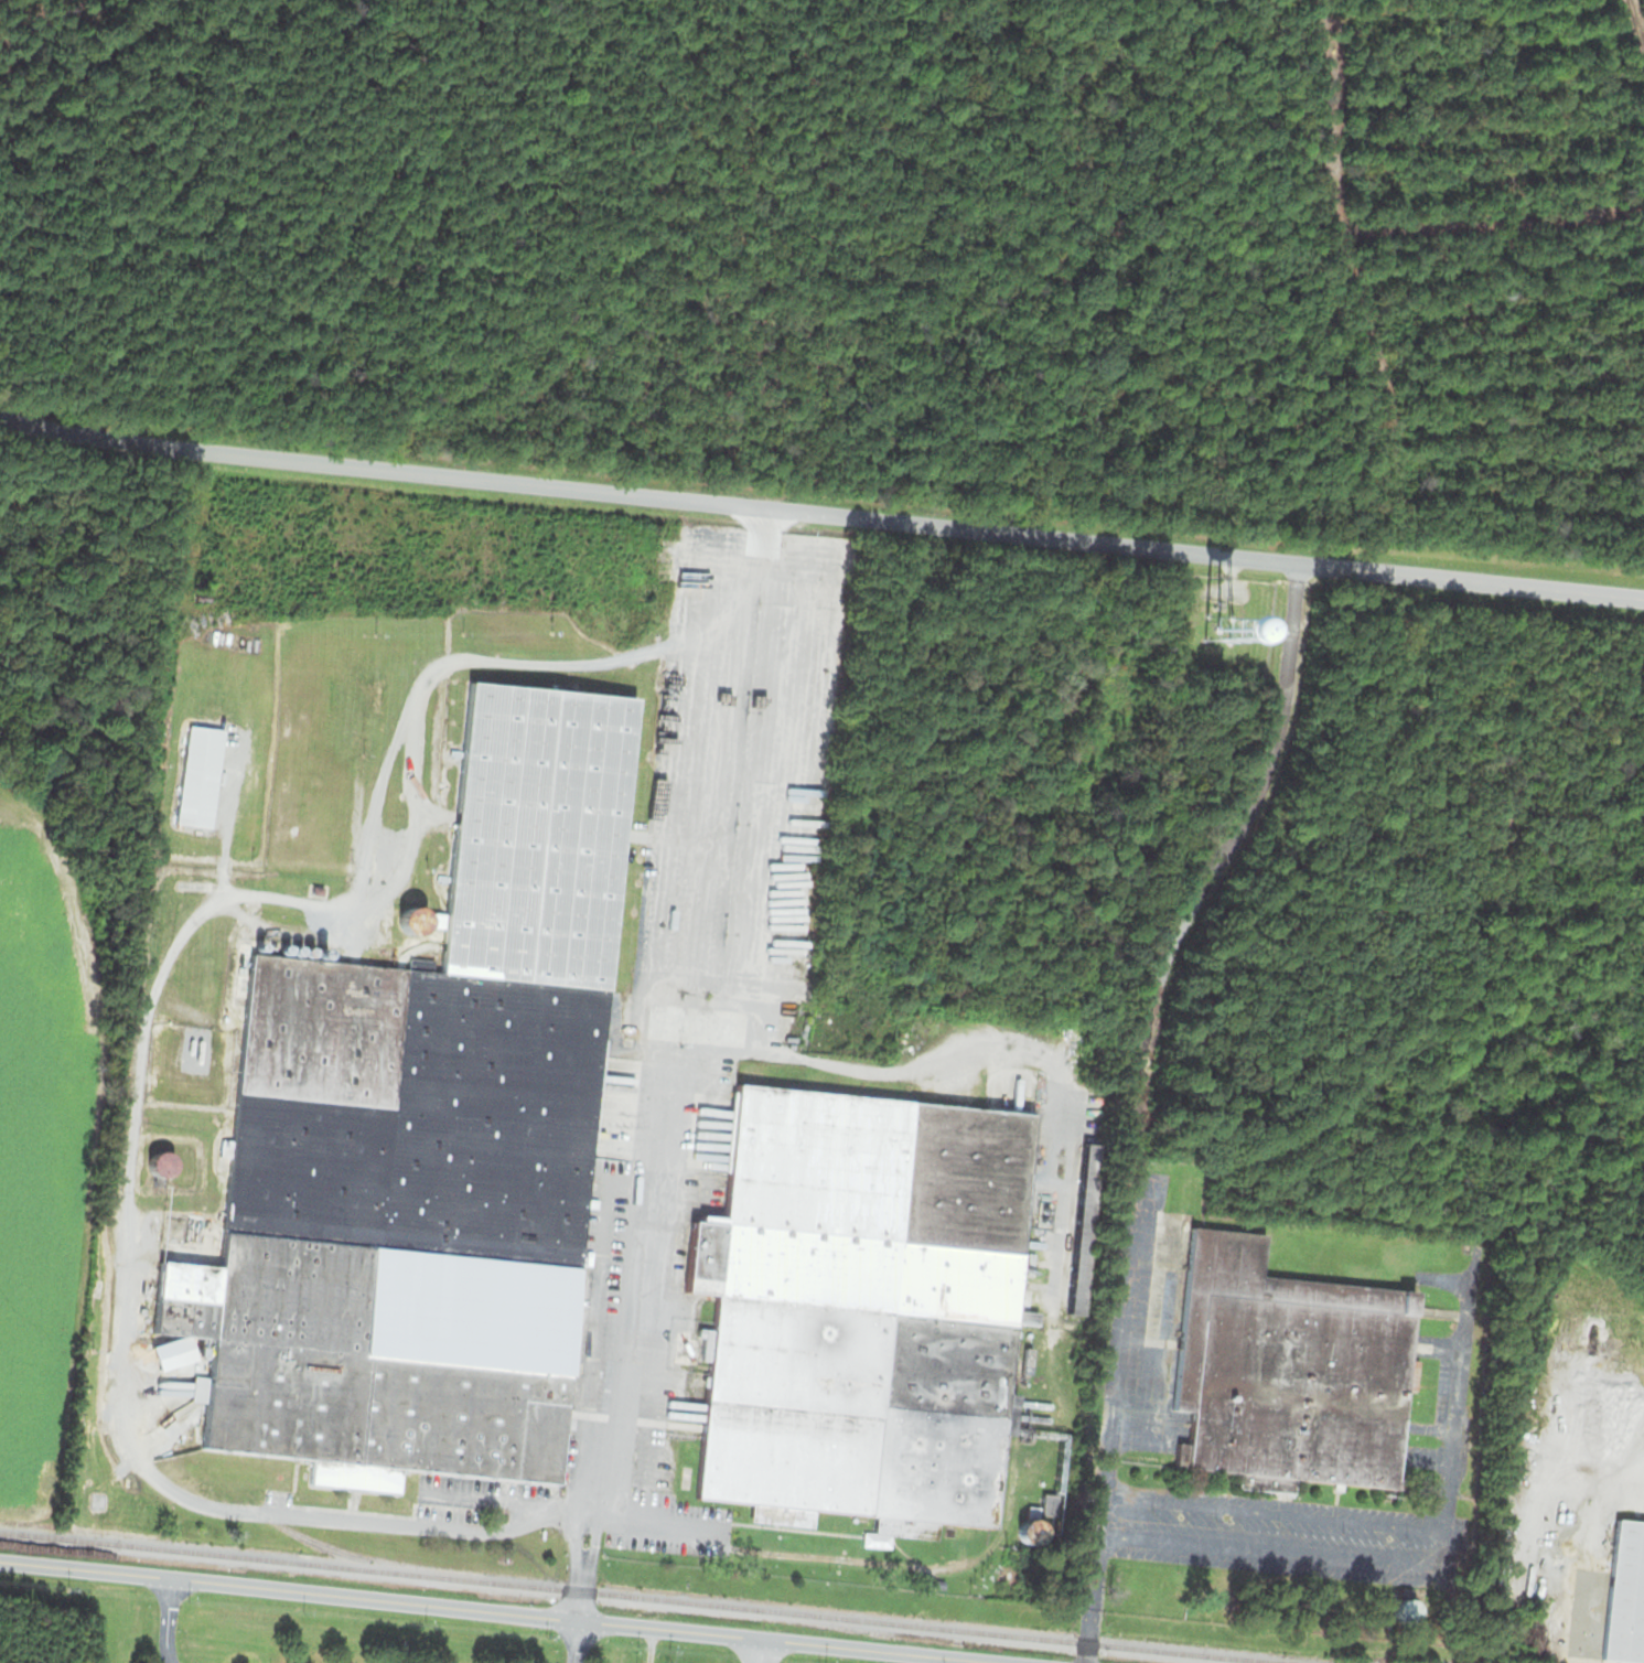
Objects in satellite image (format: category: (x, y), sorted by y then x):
road: (820, 513)
building: (1185, 621)
building: (200, 779)
building: (540, 835)
road: (1215, 856)
road: (154, 993)
road: (954, 1055)
road: (656, 1072)
building: (856, 1308)
building: (1282, 1370)
road: (1107, 1441)
road: (1267, 1512)
railway: (302, 1535)
road: (574, 1542)
road: (593, 1544)
road: (1443, 1548)
road: (1262, 1551)
road: (576, 1591)
building: (1623, 1594)
railway: (644, 1597)
road: (498, 1611)
road: (161, 1620)
railway: (856, 1627)
road: (572, 1641)
road: (750, 1650)

